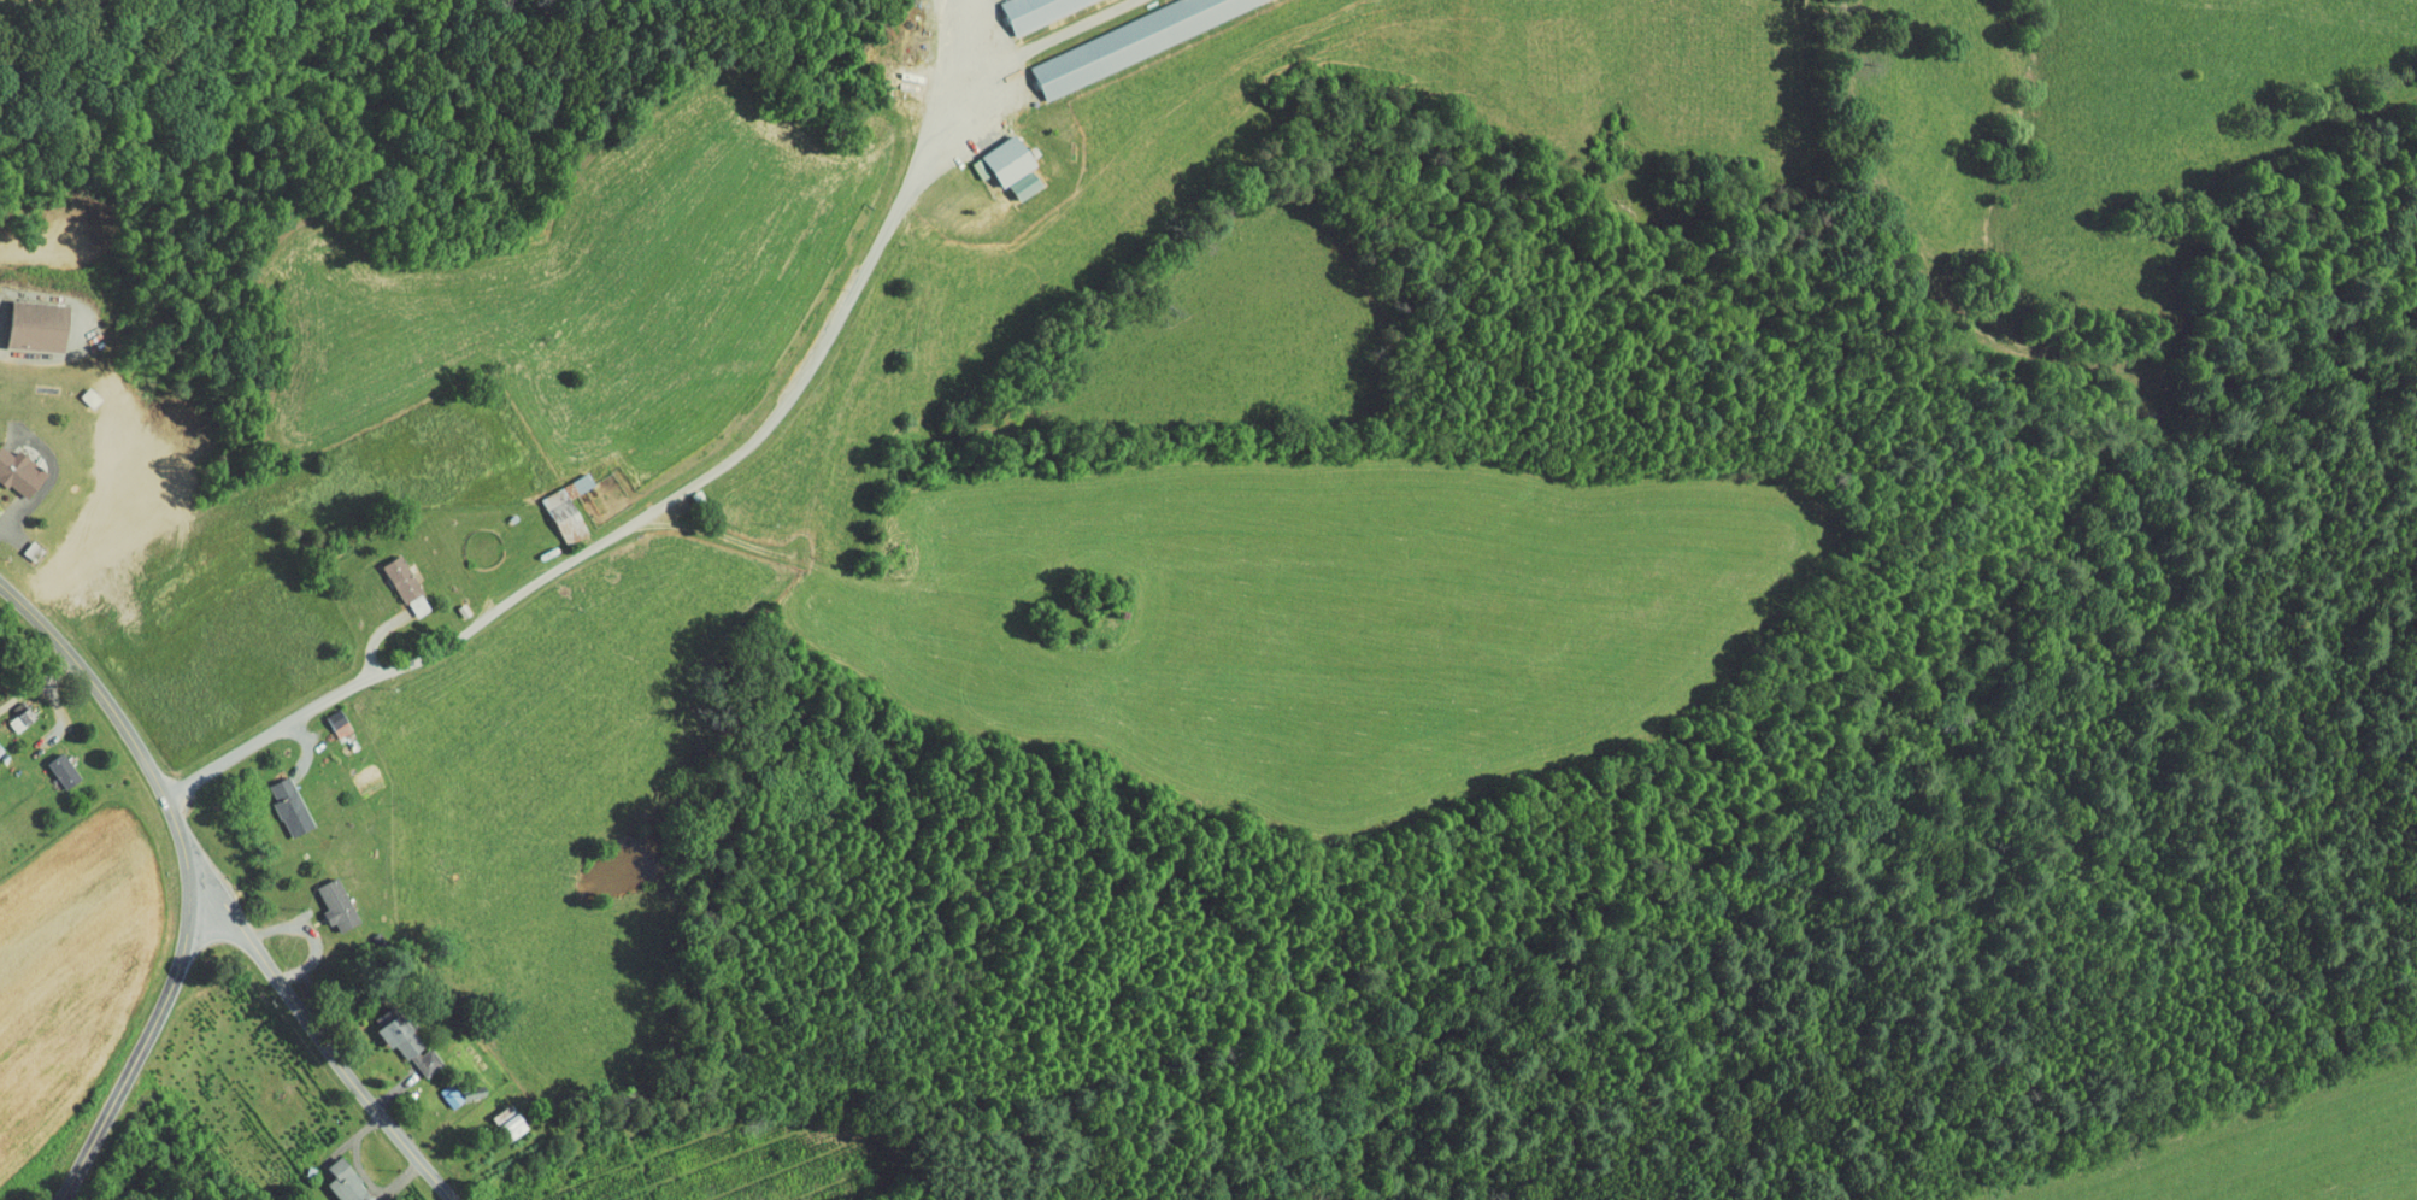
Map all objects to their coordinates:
building: (1002, 5)
building: (1104, 36)
building: (987, 152)
building: (1004, 176)
road: (849, 299)
building: (20, 316)
building: (8, 466)
building: (548, 500)
building: (388, 577)
road: (408, 663)
road: (40, 684)
building: (7, 710)
road: (116, 710)
building: (319, 714)
building: (43, 761)
building: (269, 798)
building: (316, 896)
building: (388, 1035)
road: (319, 1036)
road: (147, 1039)
building: (434, 1087)
building: (492, 1113)
building: (330, 1177)

